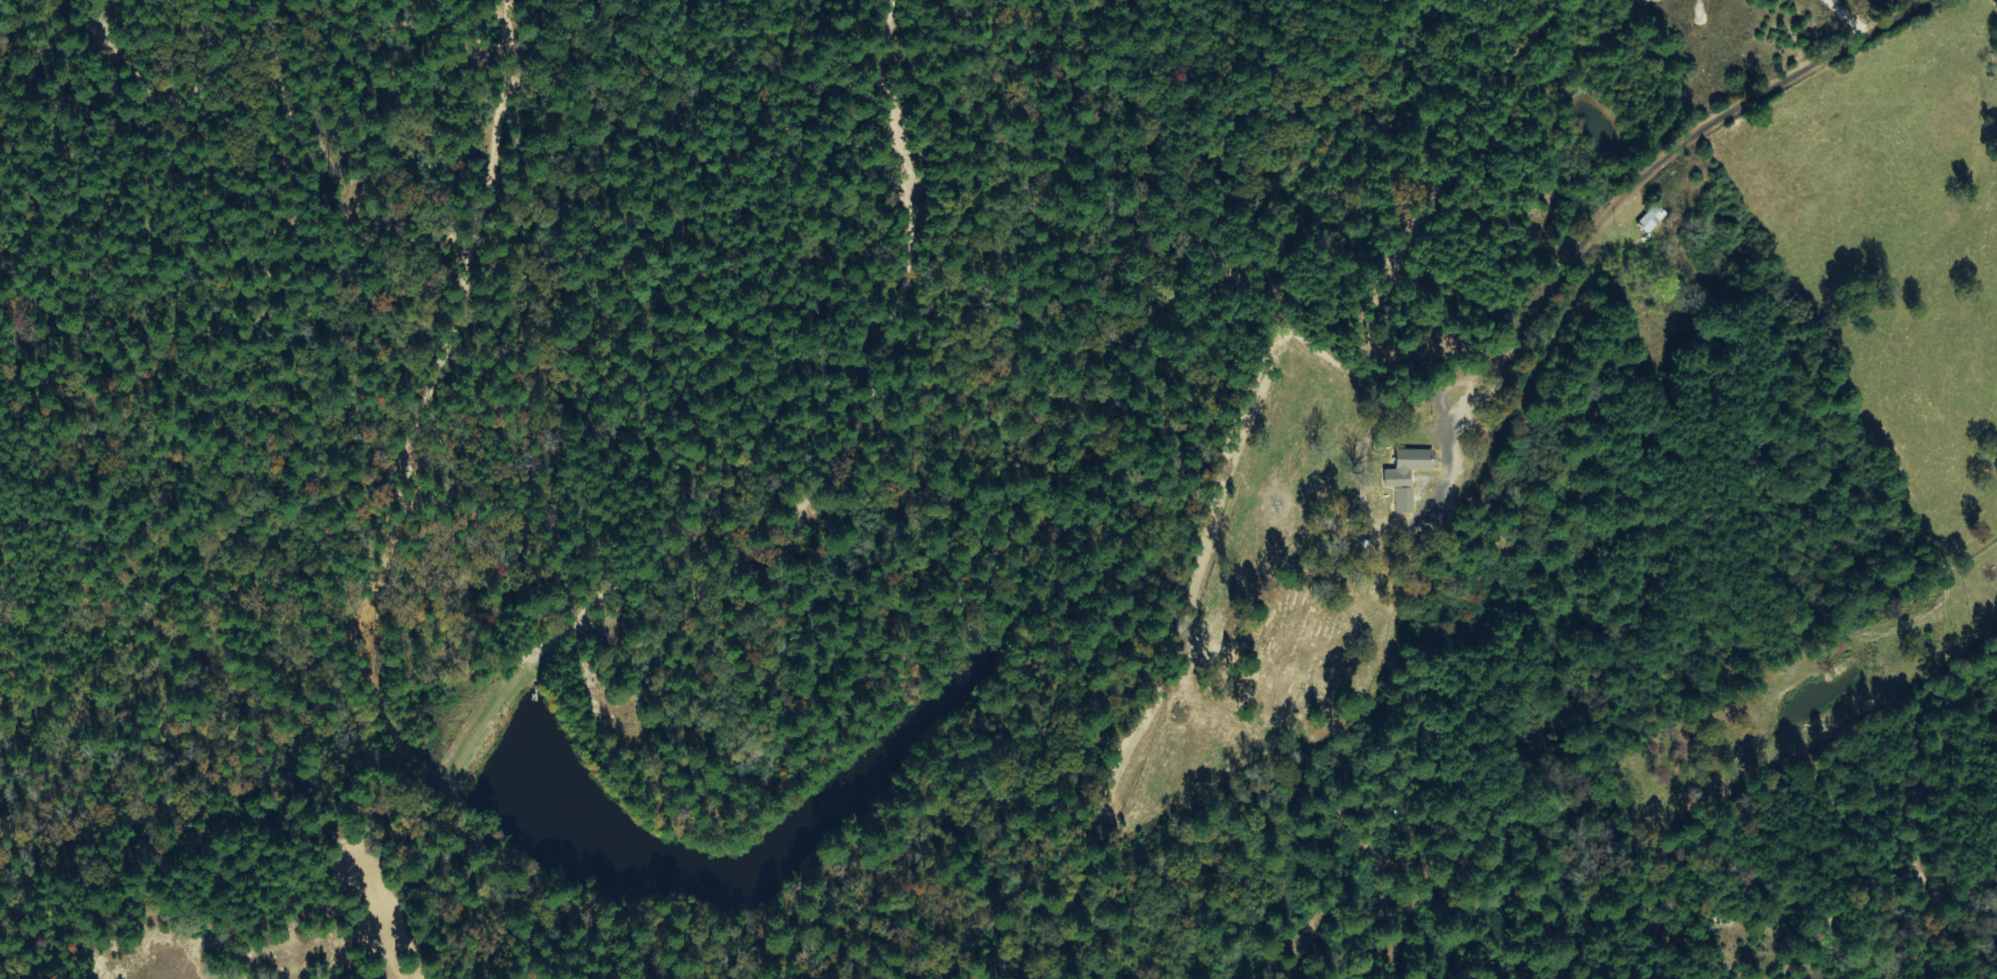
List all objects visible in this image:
road: (1727, 136)
building: (1652, 218)
building: (1407, 476)
park: (1305, 664)

